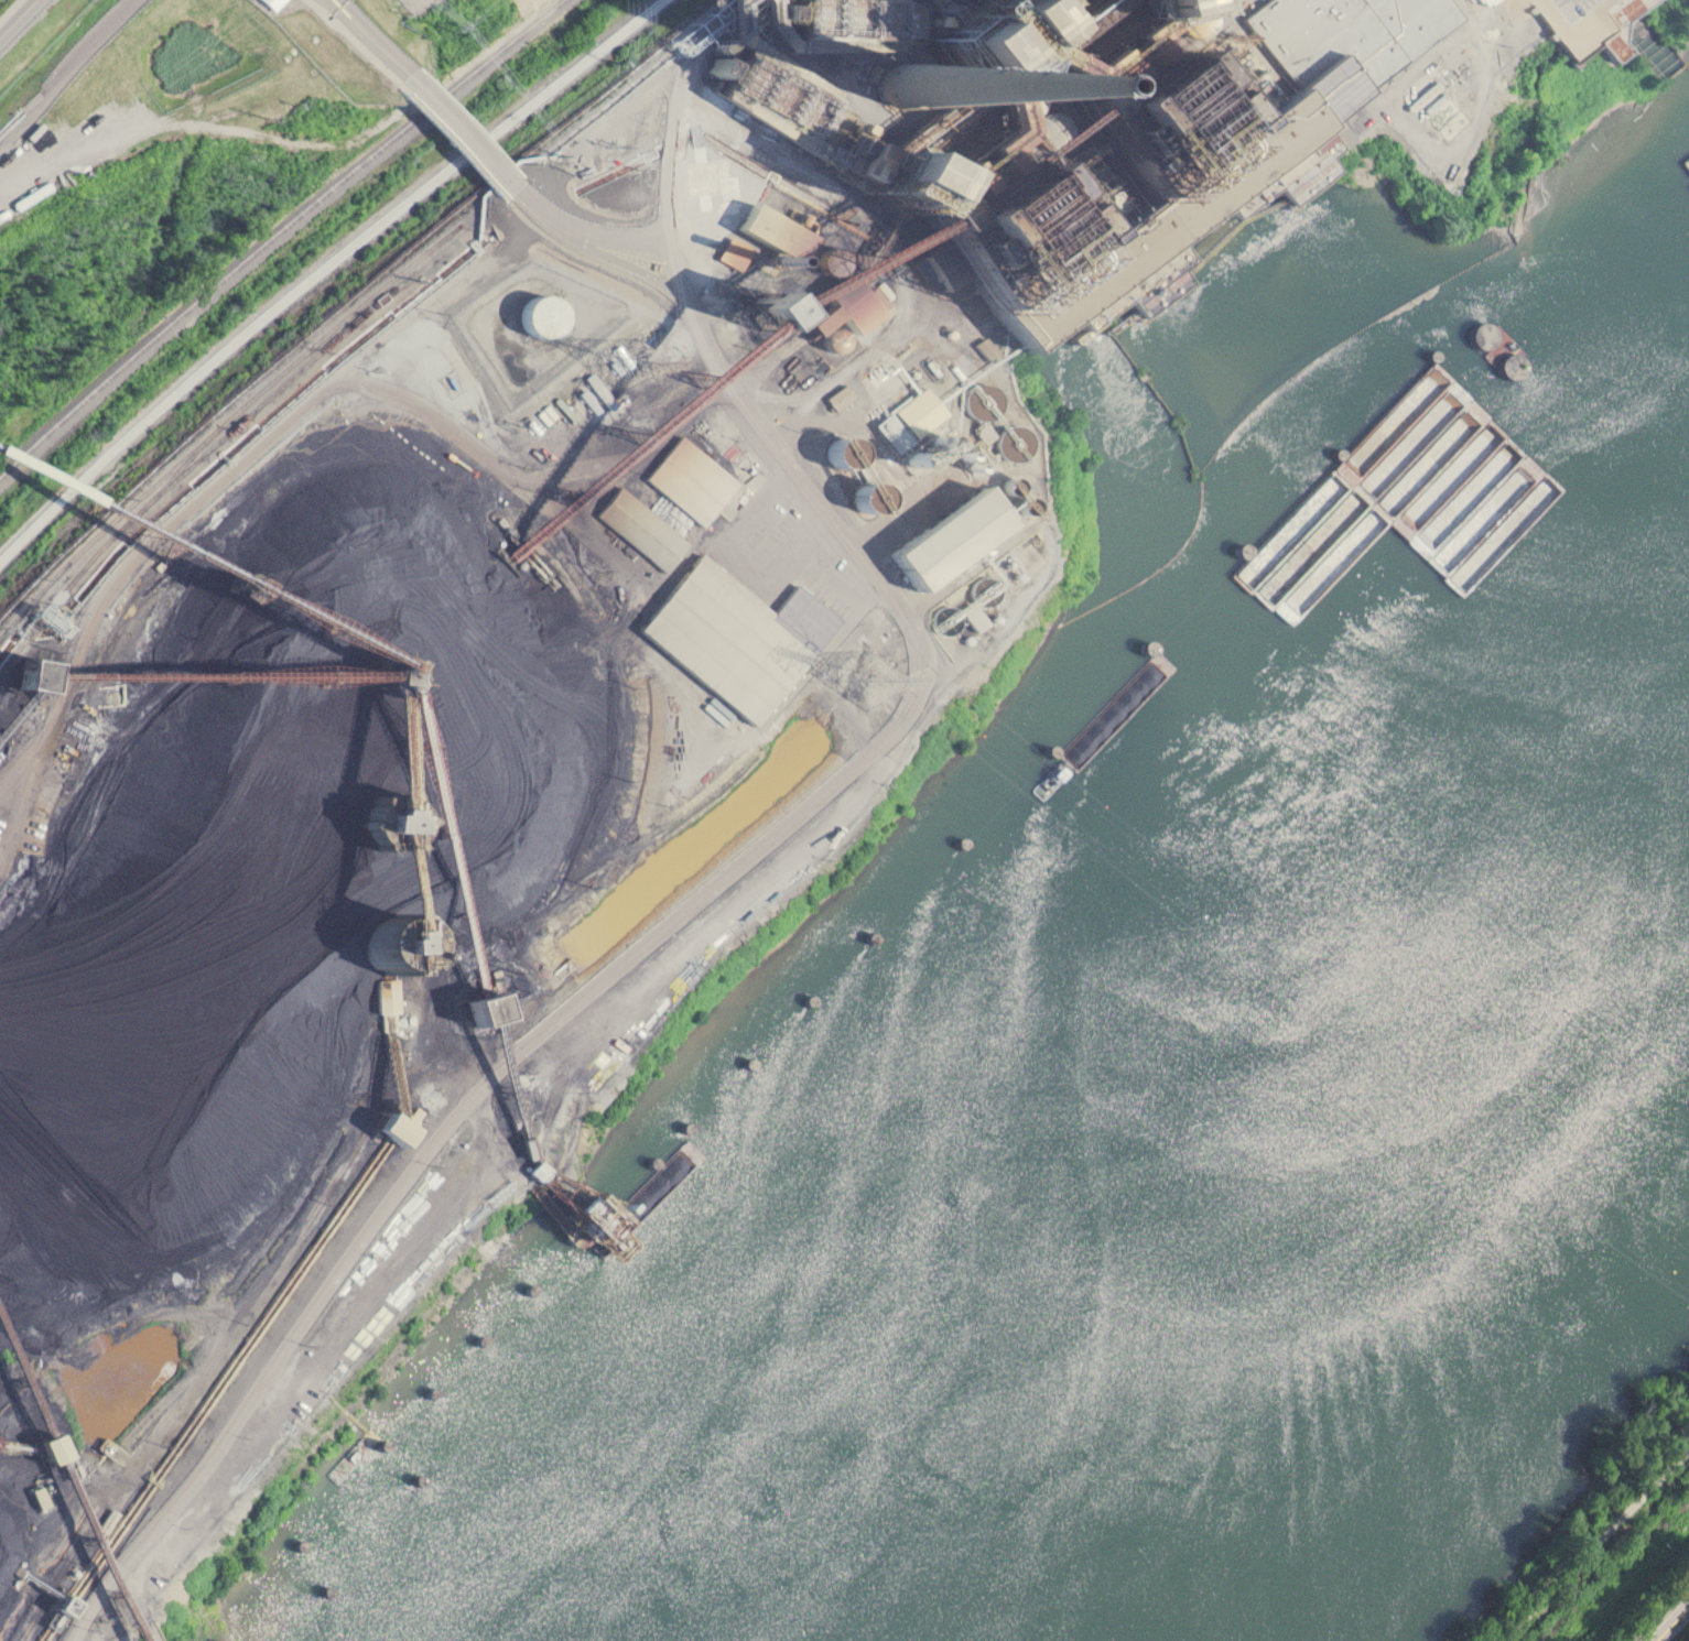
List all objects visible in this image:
road: (331, 1)
building: (1483, 1)
building: (262, 2)
road: (13, 14)
building: (1588, 21)
road: (365, 40)
road: (62, 69)
chimney: (873, 88)
road: (453, 133)
building: (989, 139)
railway: (277, 230)
road: (591, 232)
railway: (326, 267)
building: (539, 306)
storage tank: (539, 306)
building: (443, 339)
power tower: (634, 355)
building: (913, 419)
railway: (231, 420)
building: (1366, 456)
building: (689, 475)
railway: (129, 504)
building: (640, 522)
building: (945, 530)
power plant: (542, 602)
building: (727, 631)
power tower: (864, 667)
road: (739, 861)
building: (380, 993)
building: (486, 1002)
building: (524, 1167)
river: (1292, 1181)
building: (588, 1227)
building: (35, 1448)
road: (1595, 1539)
road: (1674, 1624)

